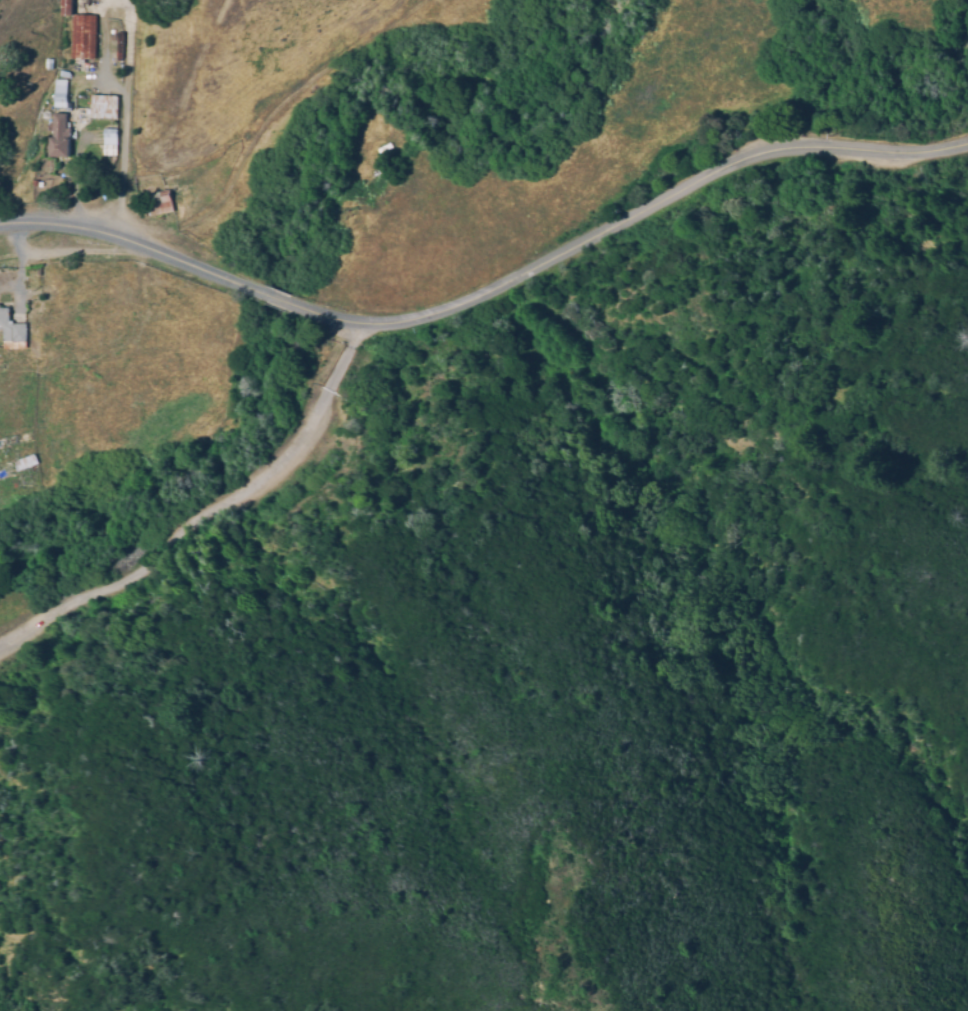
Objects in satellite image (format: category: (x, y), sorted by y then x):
building: (64, 7)
building: (82, 37)
building: (58, 93)
building: (58, 136)
building: (108, 142)
road: (625, 225)
road: (137, 248)
road: (280, 299)
building: (10, 328)
road: (199, 510)

